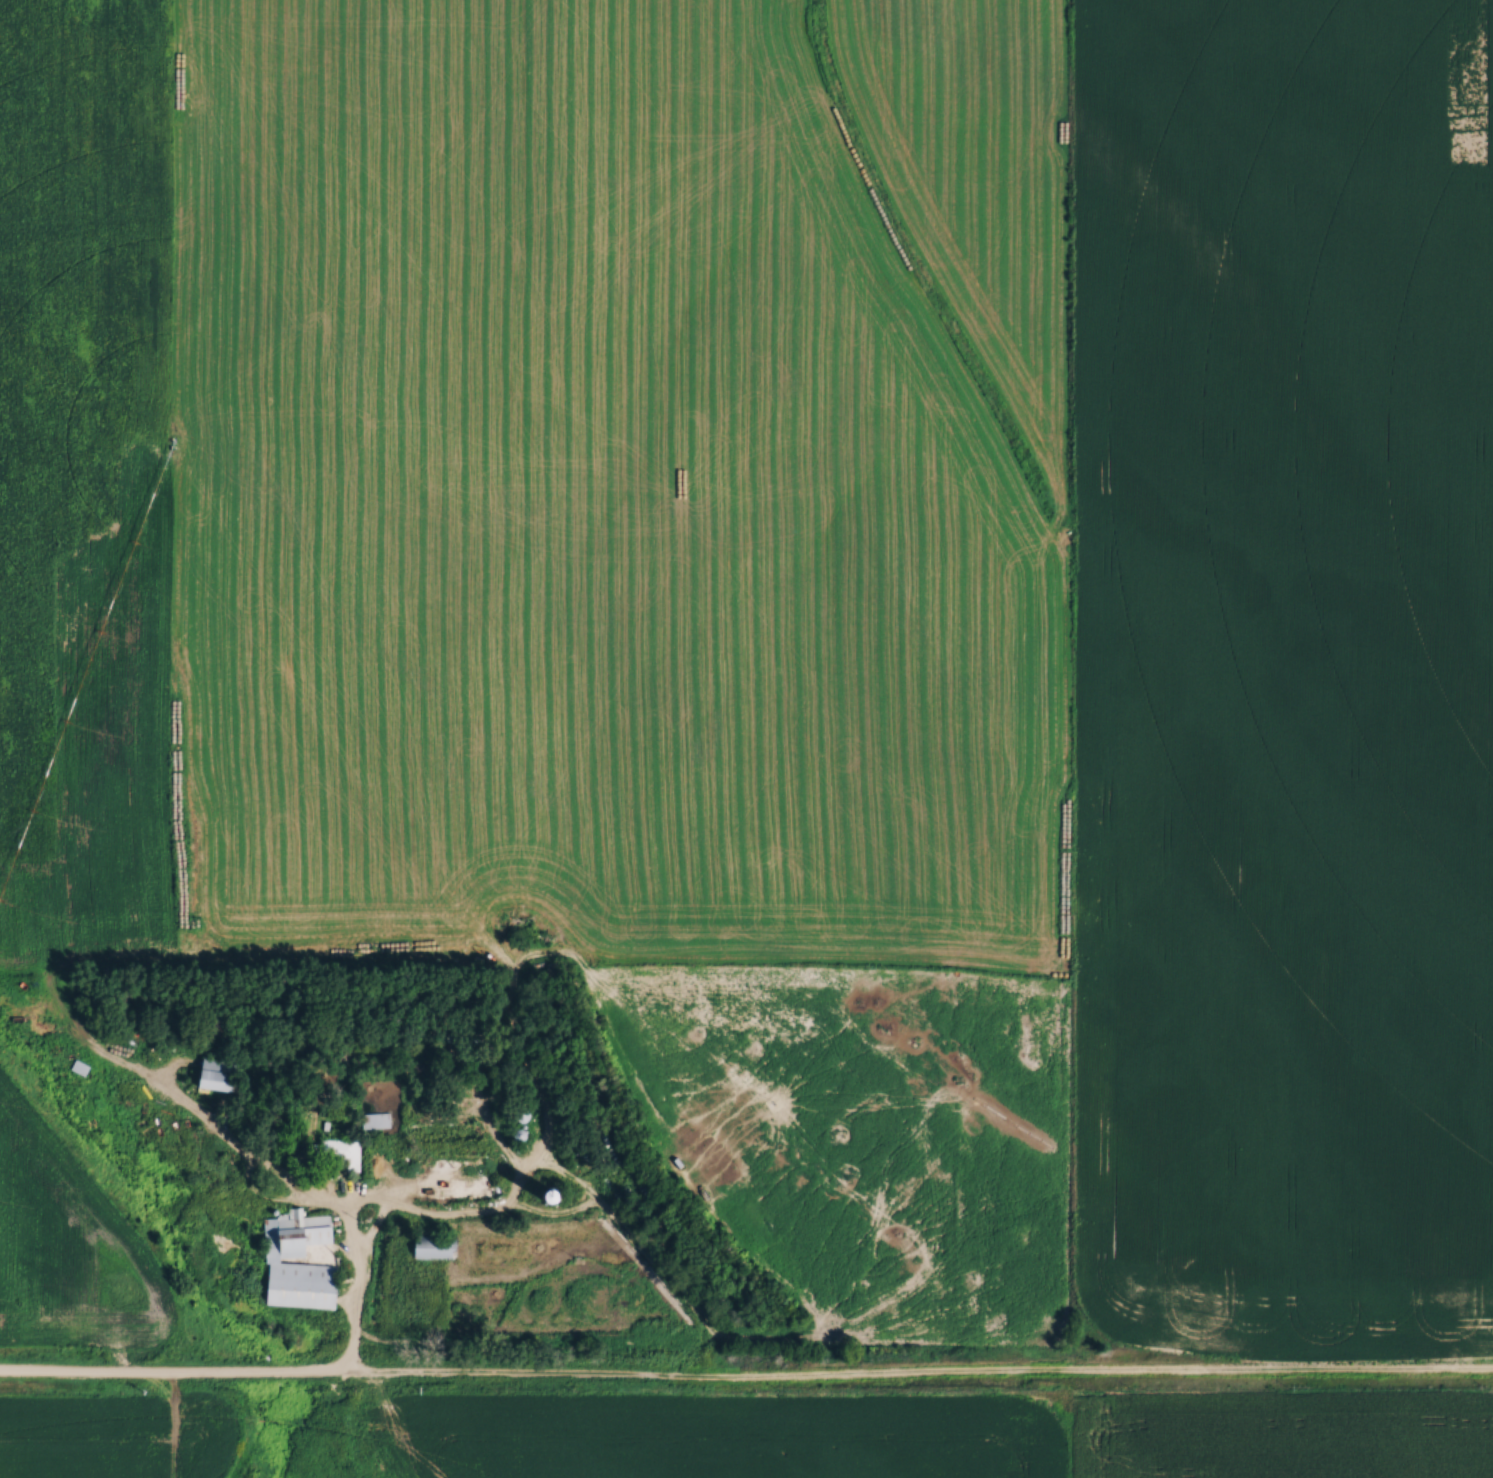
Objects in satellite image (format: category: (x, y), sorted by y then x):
building: (122, 1079)
building: (379, 1120)
building: (463, 1131)
building: (346, 1156)
crop: (69, 1253)
road: (356, 1258)
building: (302, 1285)
road: (746, 1379)

